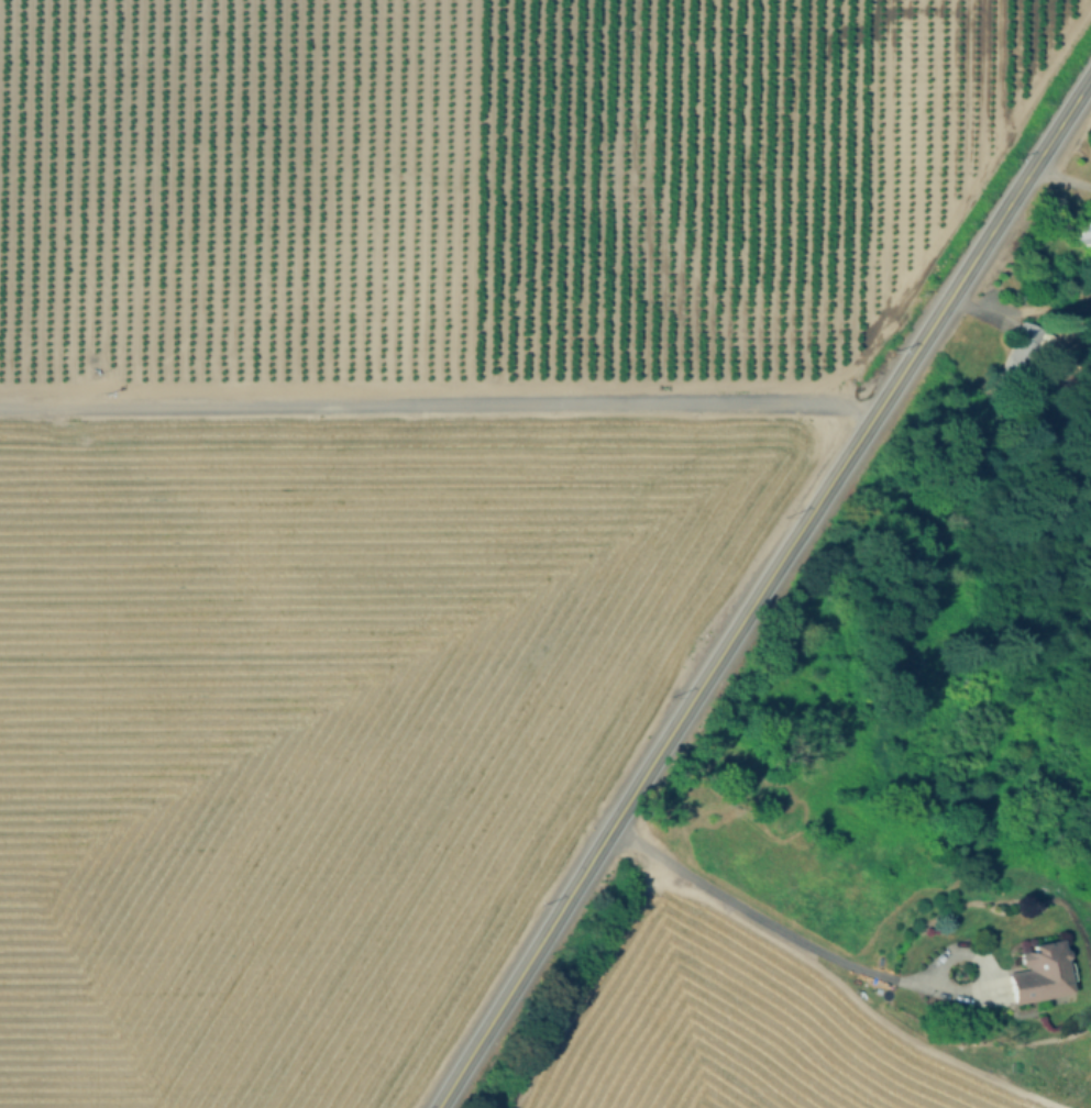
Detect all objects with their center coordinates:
road: (1064, 174)
building: (1083, 235)
road: (984, 244)
building: (1024, 354)
crop: (396, 466)
road: (657, 757)
road: (780, 928)
building: (1038, 973)
crop: (726, 1022)

